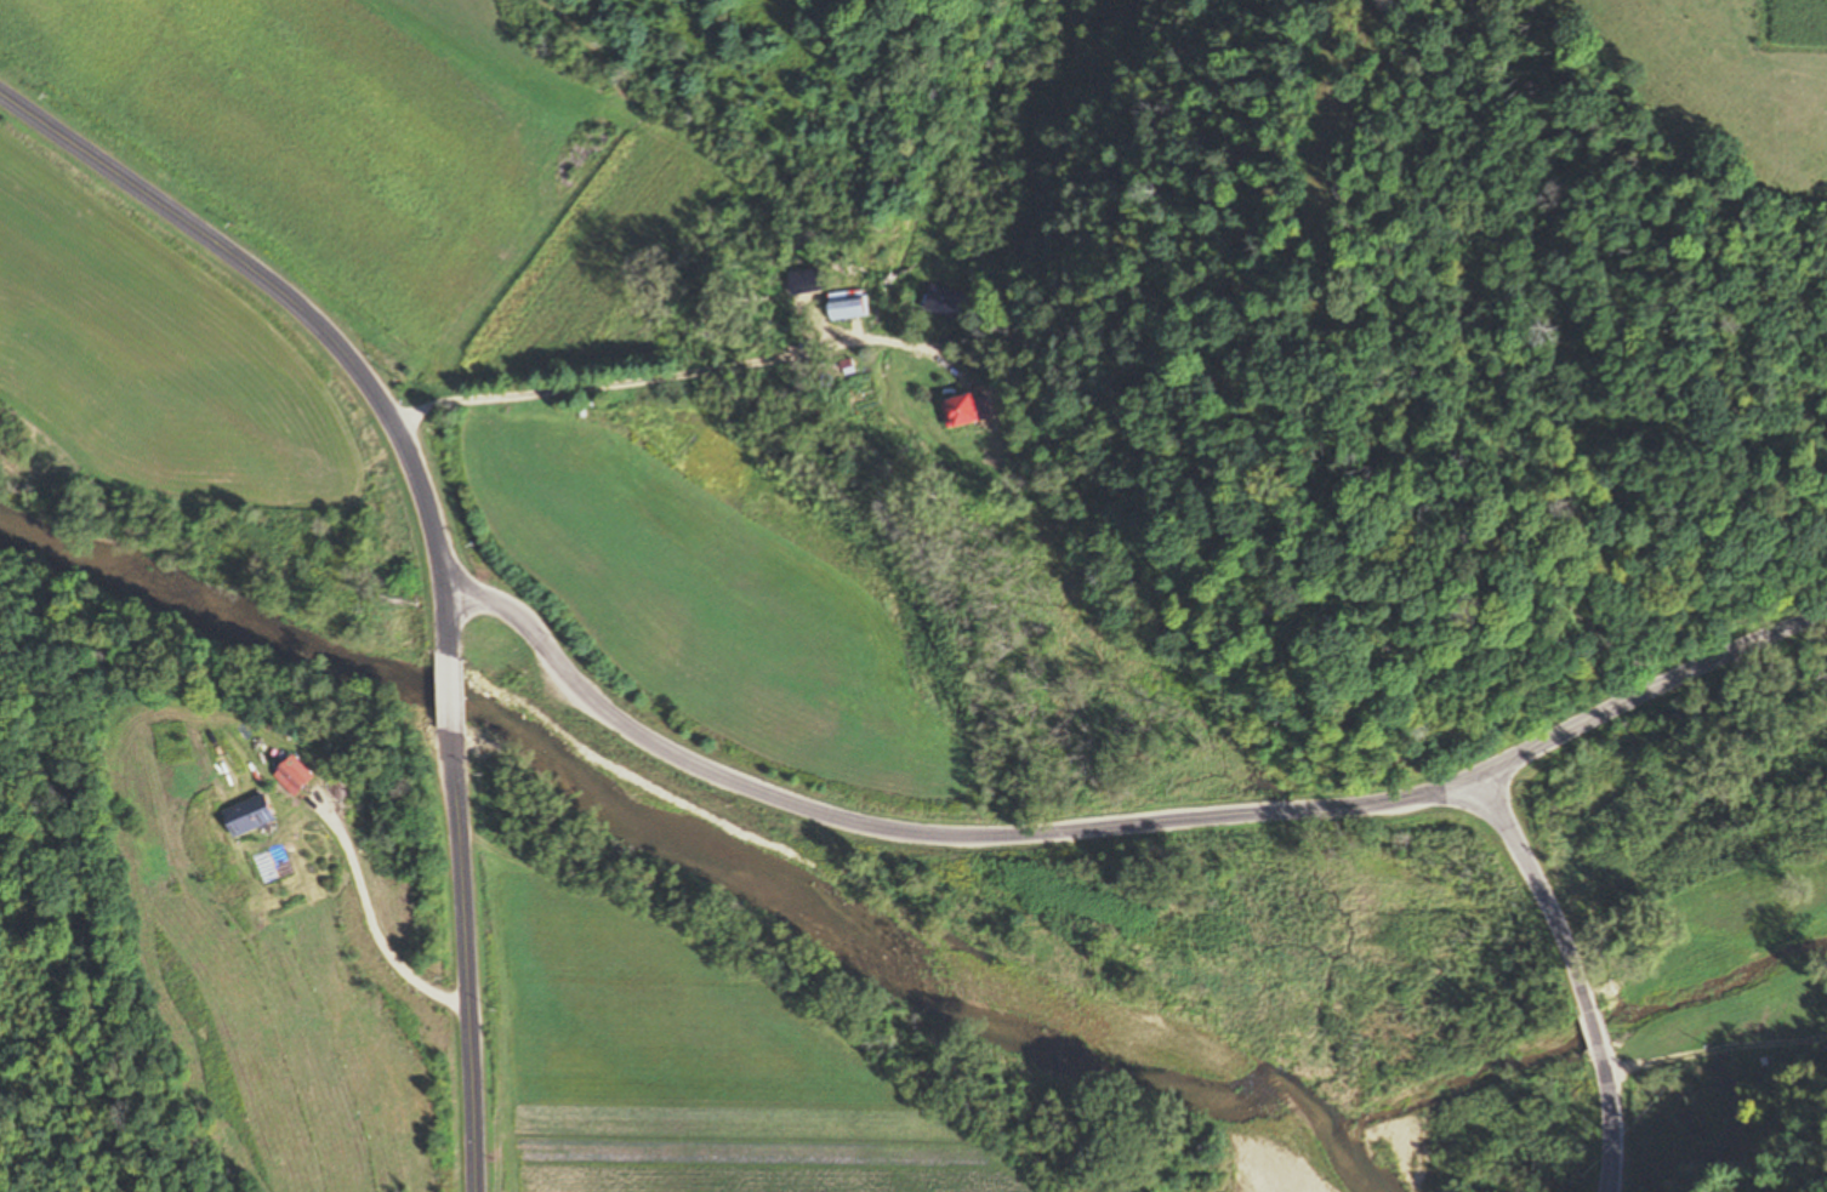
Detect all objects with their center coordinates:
road: (283, 301)
road: (673, 375)
building: (957, 412)
road: (449, 628)
road: (451, 697)
building: (294, 776)
building: (246, 816)
river: (649, 819)
road: (1119, 833)
road: (371, 918)
road: (463, 964)
road: (1573, 970)

